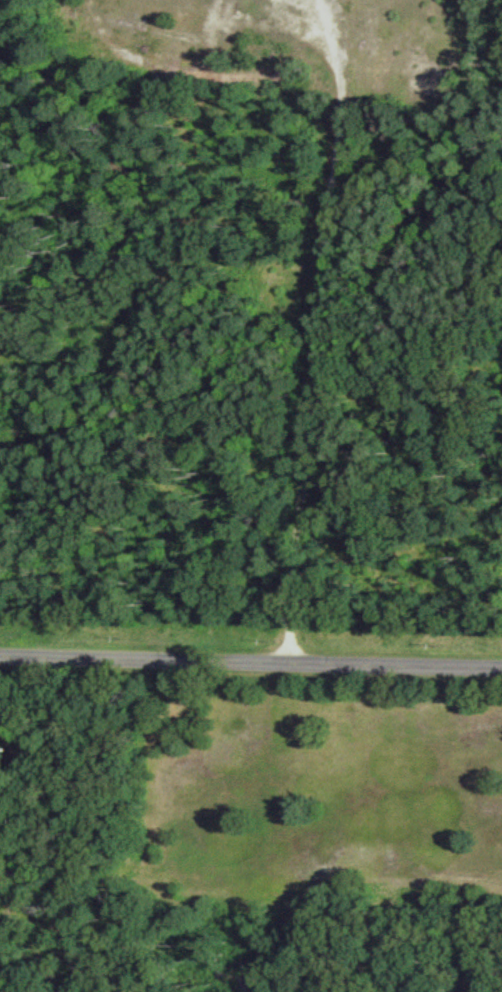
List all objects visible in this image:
road: (251, 658)

